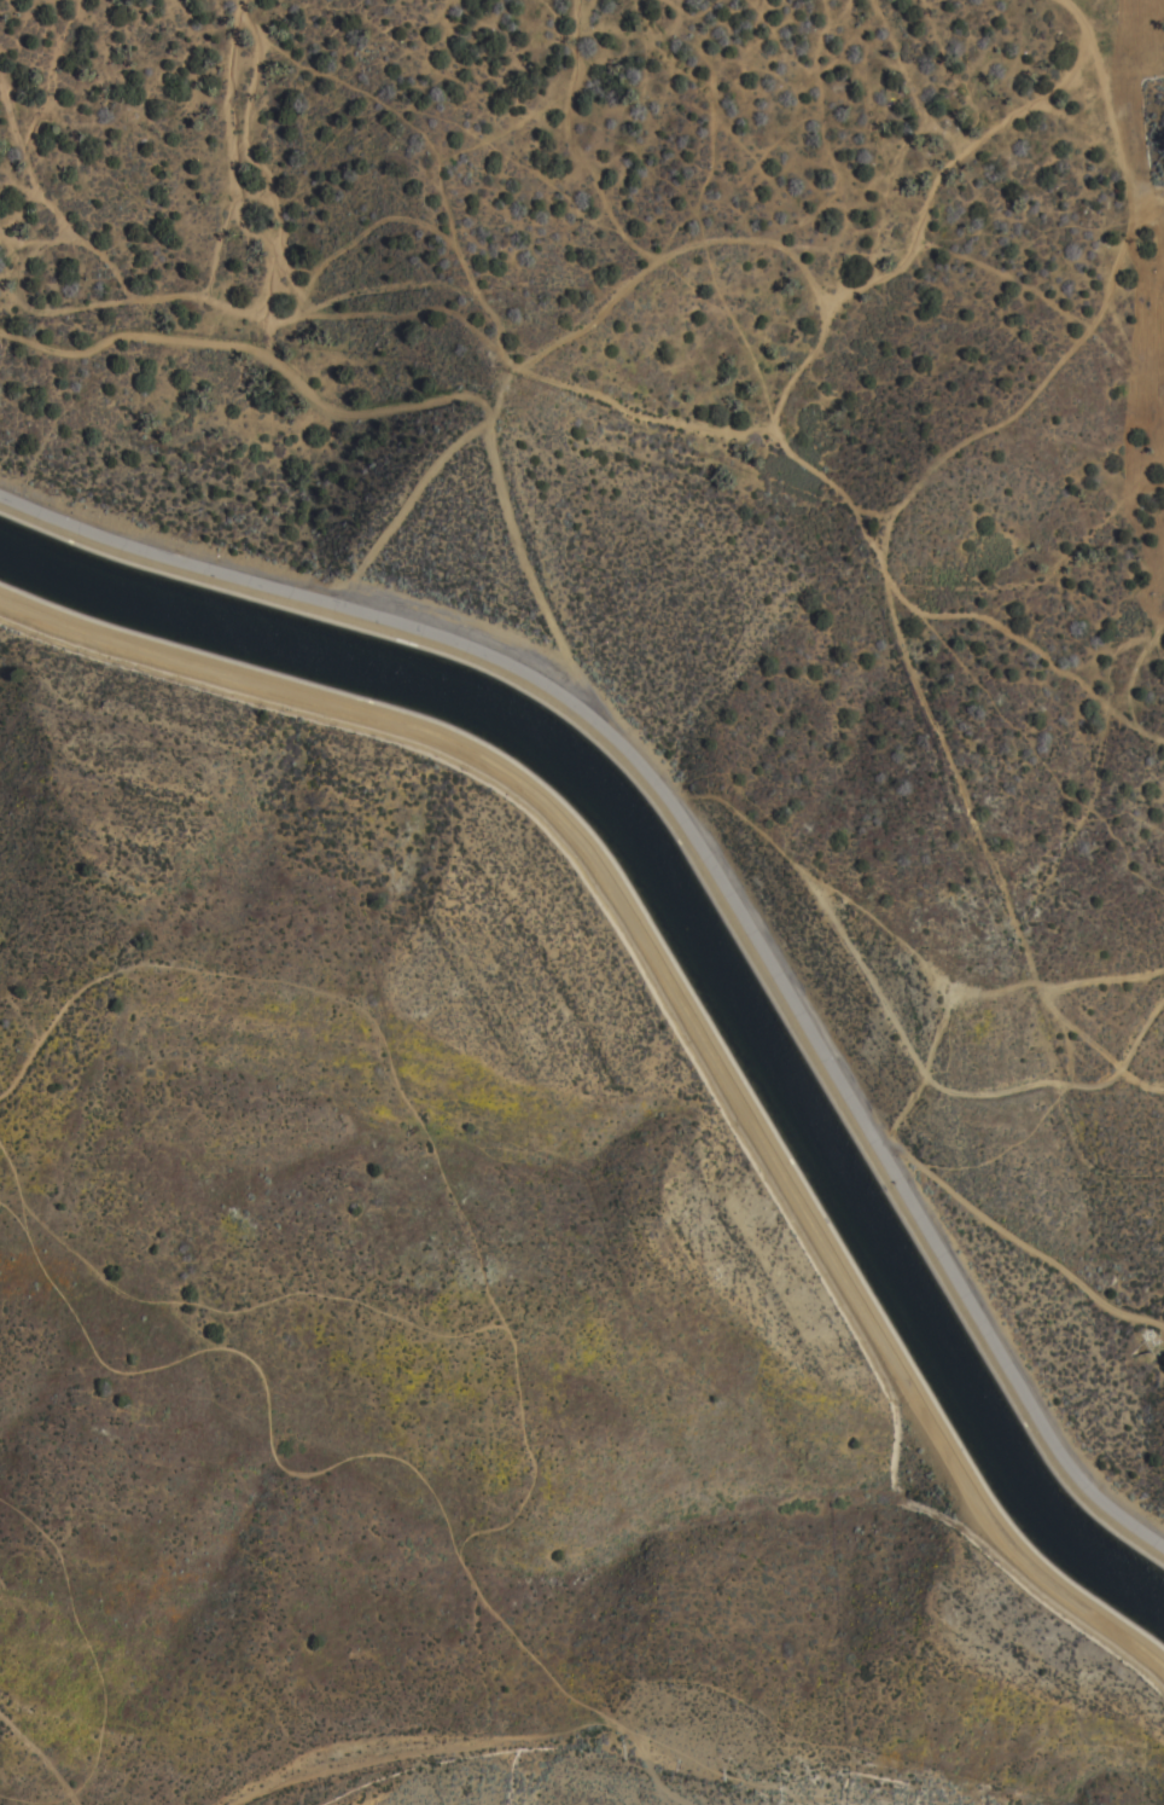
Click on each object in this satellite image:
road: (408, 627)
road: (675, 1008)
road: (932, 1234)
road: (505, 1336)
road: (37, 1758)

